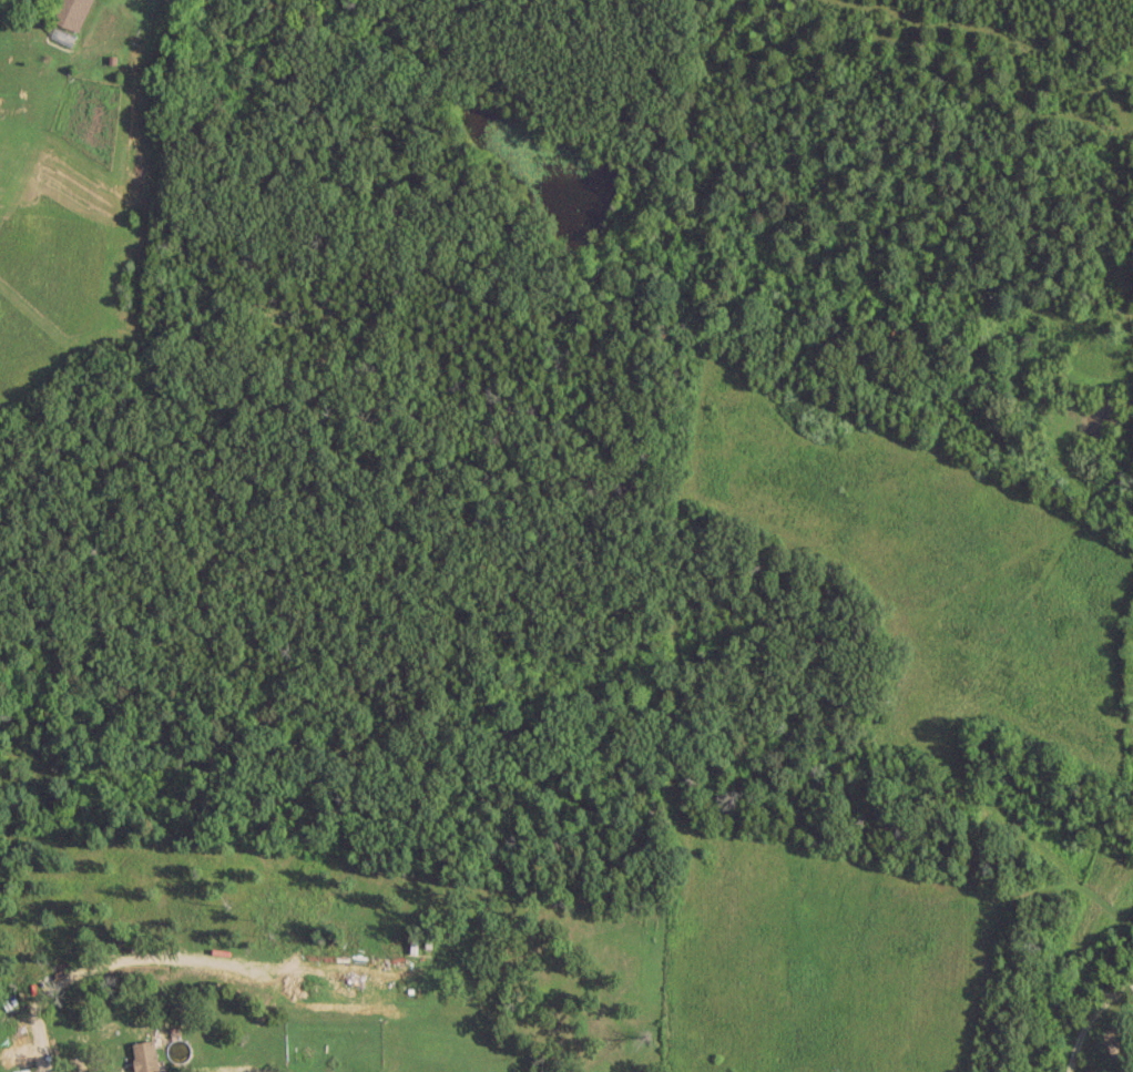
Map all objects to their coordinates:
building: (67, 12)
road: (1090, 1022)
building: (13, 1051)
building: (142, 1055)

